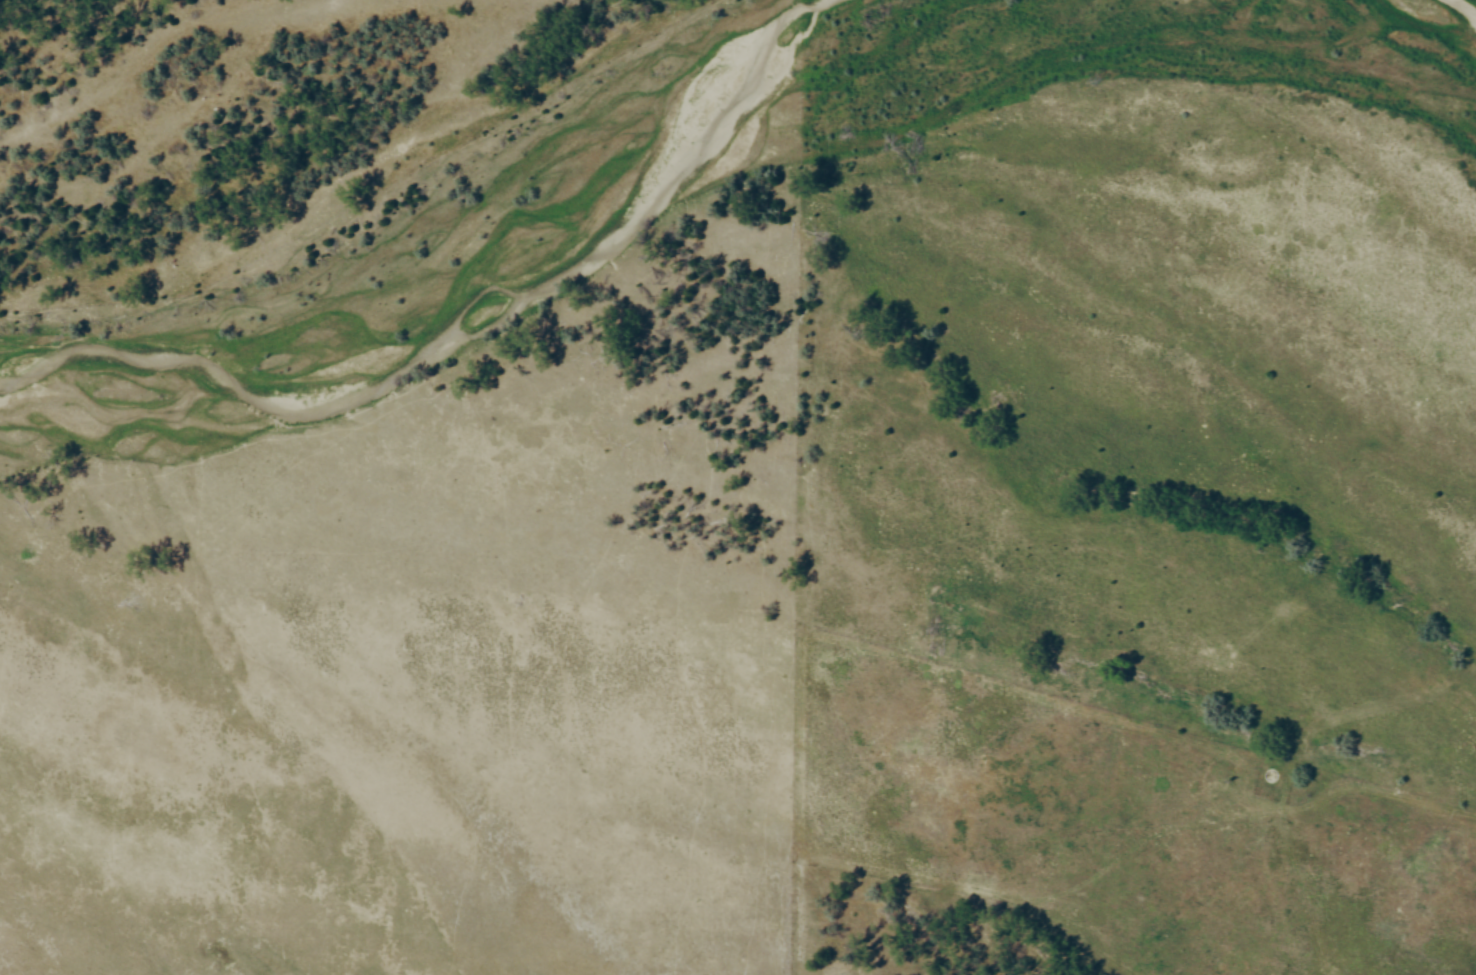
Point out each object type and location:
river: (1464, 5)
river: (454, 322)

